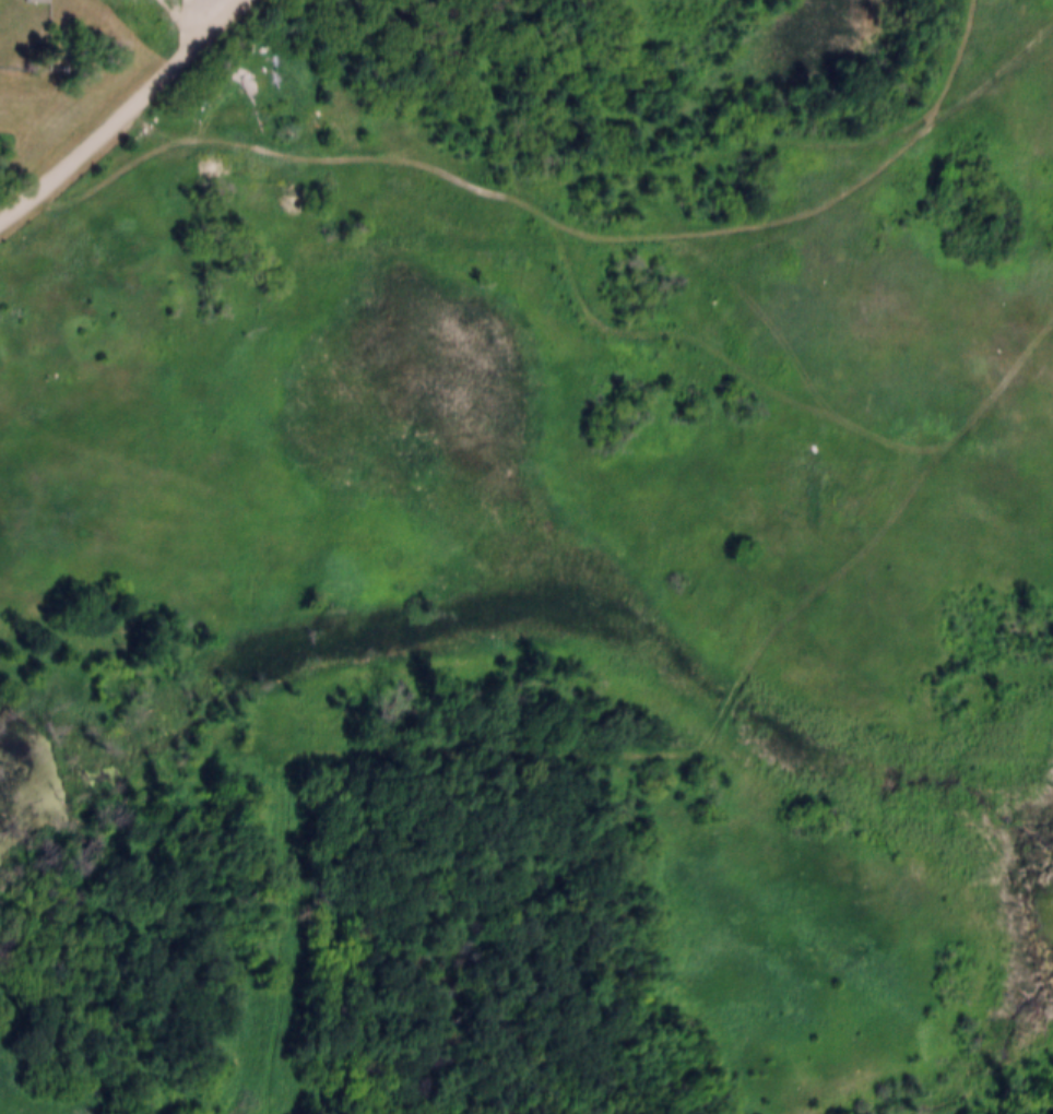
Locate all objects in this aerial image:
building: (37, 1)
building: (15, 26)
road: (121, 109)
road: (699, 342)

